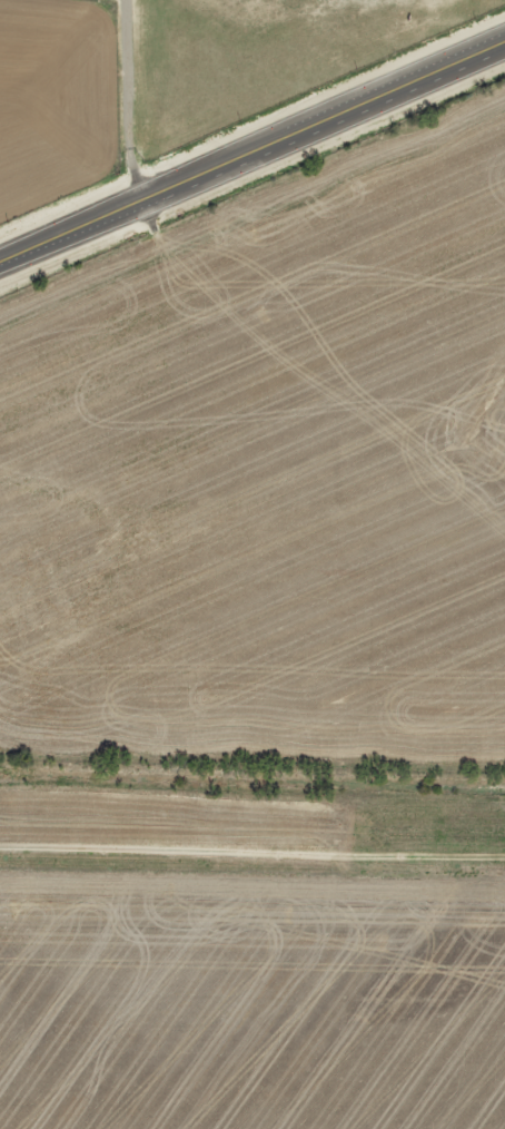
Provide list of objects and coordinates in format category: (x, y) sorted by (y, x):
road: (253, 145)

